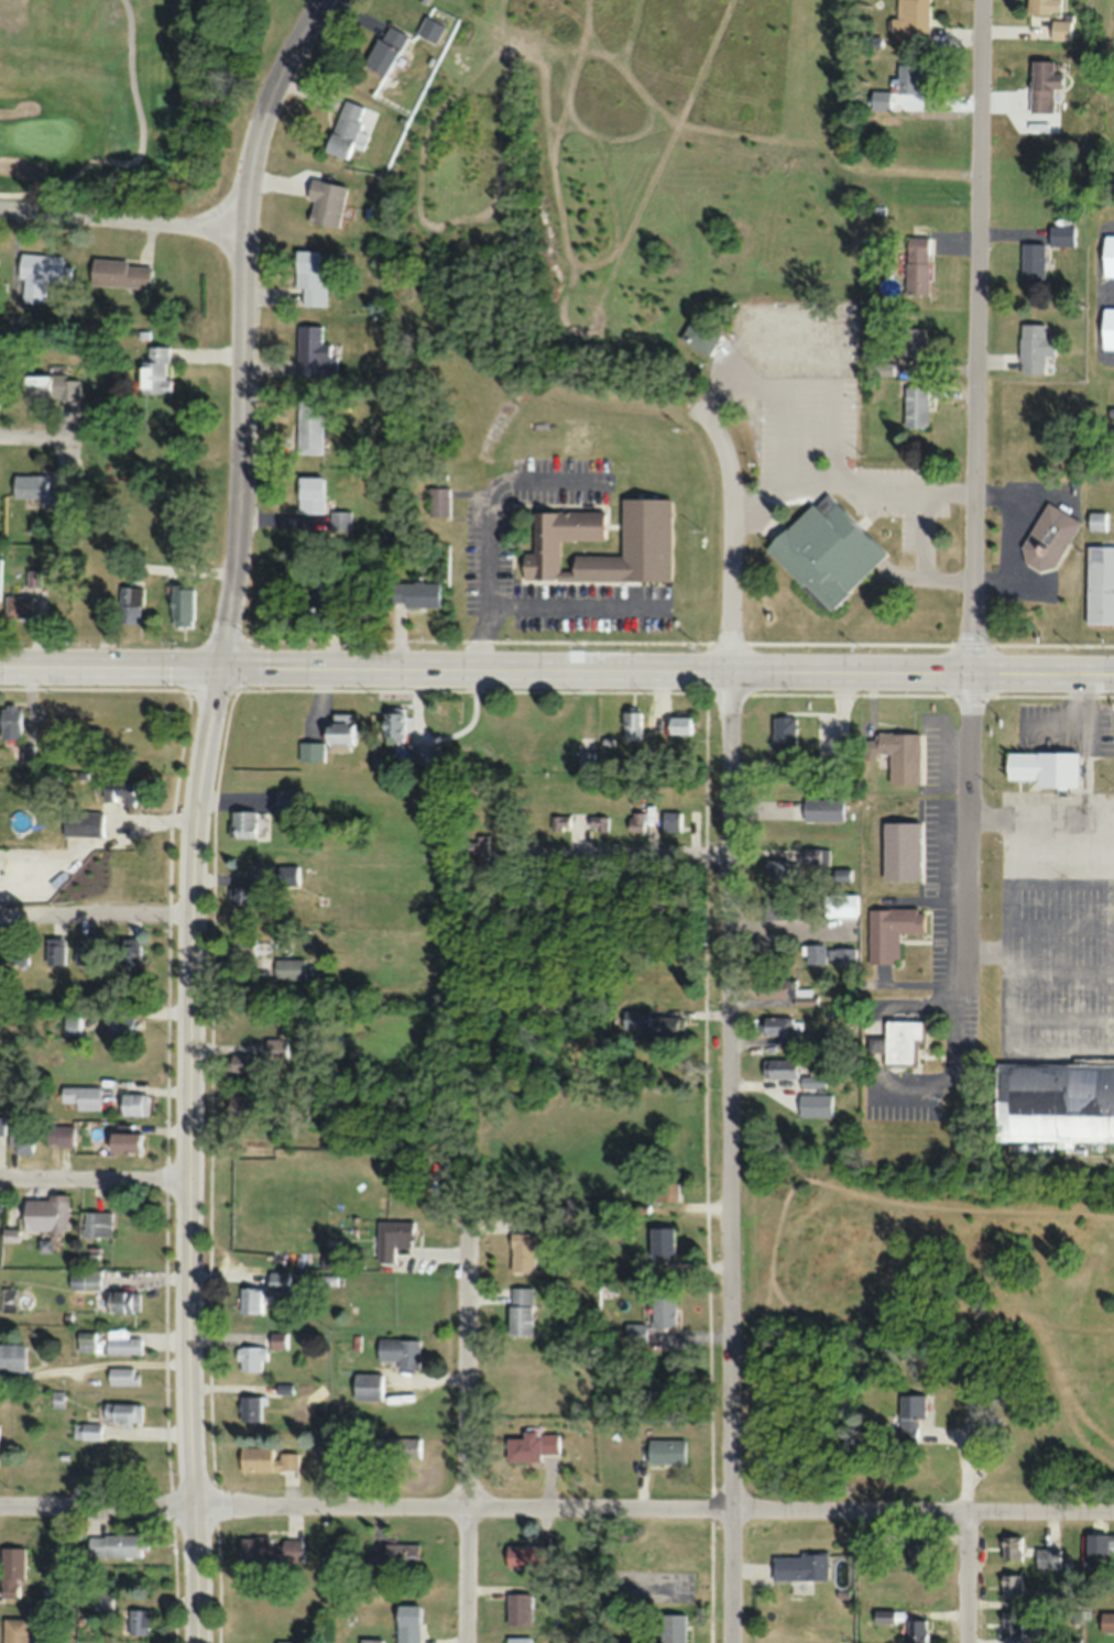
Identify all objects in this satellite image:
building: (1042, 6)
building: (911, 20)
building: (430, 30)
building: (1060, 30)
building: (385, 50)
building: (910, 77)
building: (1042, 85)
building: (881, 100)
park: (119, 102)
building: (346, 128)
park: (43, 136)
building: (326, 202)
road: (123, 217)
building: (1060, 234)
building: (1107, 255)
building: (1031, 262)
building: (917, 263)
building: (122, 273)
building: (42, 274)
building: (310, 276)
road: (243, 326)
building: (1107, 327)
building: (914, 343)
building: (1034, 347)
building: (316, 352)
building: (155, 370)
building: (42, 385)
building: (0, 387)
building: (915, 405)
building: (310, 426)
road: (41, 445)
road: (853, 478)
building: (42, 490)
building: (312, 493)
building: (438, 500)
road: (975, 500)
building: (341, 519)
building: (1096, 519)
road: (732, 534)
building: (188, 536)
building: (830, 536)
building: (645, 537)
building: (1048, 537)
building: (1100, 583)
building: (413, 593)
building: (130, 603)
building: (20, 604)
building: (182, 604)
building: (293, 607)
road: (557, 667)
building: (10, 721)
building: (393, 723)
building: (631, 724)
building: (678, 724)
building: (784, 732)
building: (329, 738)
building: (423, 753)
building: (28, 754)
building: (900, 755)
building: (585, 762)
building: (1041, 767)
building: (783, 768)
building: (100, 808)
building: (822, 809)
building: (500, 813)
building: (636, 820)
building: (560, 821)
building: (671, 821)
building: (598, 822)
building: (242, 823)
building: (476, 850)
building: (899, 851)
road: (619, 853)
building: (812, 856)
building: (782, 868)
building: (842, 874)
building: (288, 875)
building: (242, 894)
building: (840, 903)
building: (809, 905)
building: (778, 907)
road: (96, 912)
building: (889, 931)
building: (242, 945)
building: (55, 950)
building: (85, 950)
building: (18, 951)
building: (130, 952)
building: (828, 954)
building: (290, 967)
building: (787, 990)
building: (653, 1022)
building: (72, 1023)
building: (780, 1027)
building: (120, 1028)
building: (900, 1039)
building: (277, 1048)
building: (242, 1062)
building: (779, 1067)
building: (81, 1096)
building: (240, 1096)
building: (1055, 1100)
building: (133, 1103)
building: (2, 1126)
building: (59, 1135)
building: (21, 1137)
building: (124, 1141)
road: (193, 1153)
road: (731, 1155)
road: (96, 1176)
building: (665, 1191)
building: (46, 1214)
building: (98, 1224)
building: (393, 1237)
building: (659, 1242)
building: (522, 1251)
building: (86, 1279)
building: (280, 1281)
building: (252, 1300)
building: (124, 1301)
building: (663, 1306)
building: (520, 1311)
building: (634, 1333)
building: (280, 1339)
building: (110, 1343)
building: (400, 1351)
building: (12, 1356)
building: (250, 1357)
building: (123, 1376)
building: (368, 1385)
building: (251, 1407)
building: (122, 1411)
building: (908, 1415)
building: (86, 1430)
road: (468, 1435)
building: (531, 1445)
building: (395, 1448)
building: (665, 1449)
building: (265, 1459)
road: (557, 1503)
road: (968, 1536)
building: (1104, 1540)
building: (113, 1544)
building: (1011, 1547)
building: (267, 1549)
building: (526, 1555)
building: (1048, 1557)
building: (394, 1558)
building: (799, 1566)
building: (11, 1570)
building: (1011, 1585)
building: (654, 1586)
building: (916, 1592)
building: (102, 1600)
building: (517, 1608)
building: (884, 1615)
building: (138, 1620)
building: (1106, 1622)
building: (407, 1623)
building: (1011, 1623)
building: (673, 1628)
building: (14, 1630)
building: (917, 1631)
building: (517, 1639)
building: (369, 1640)

